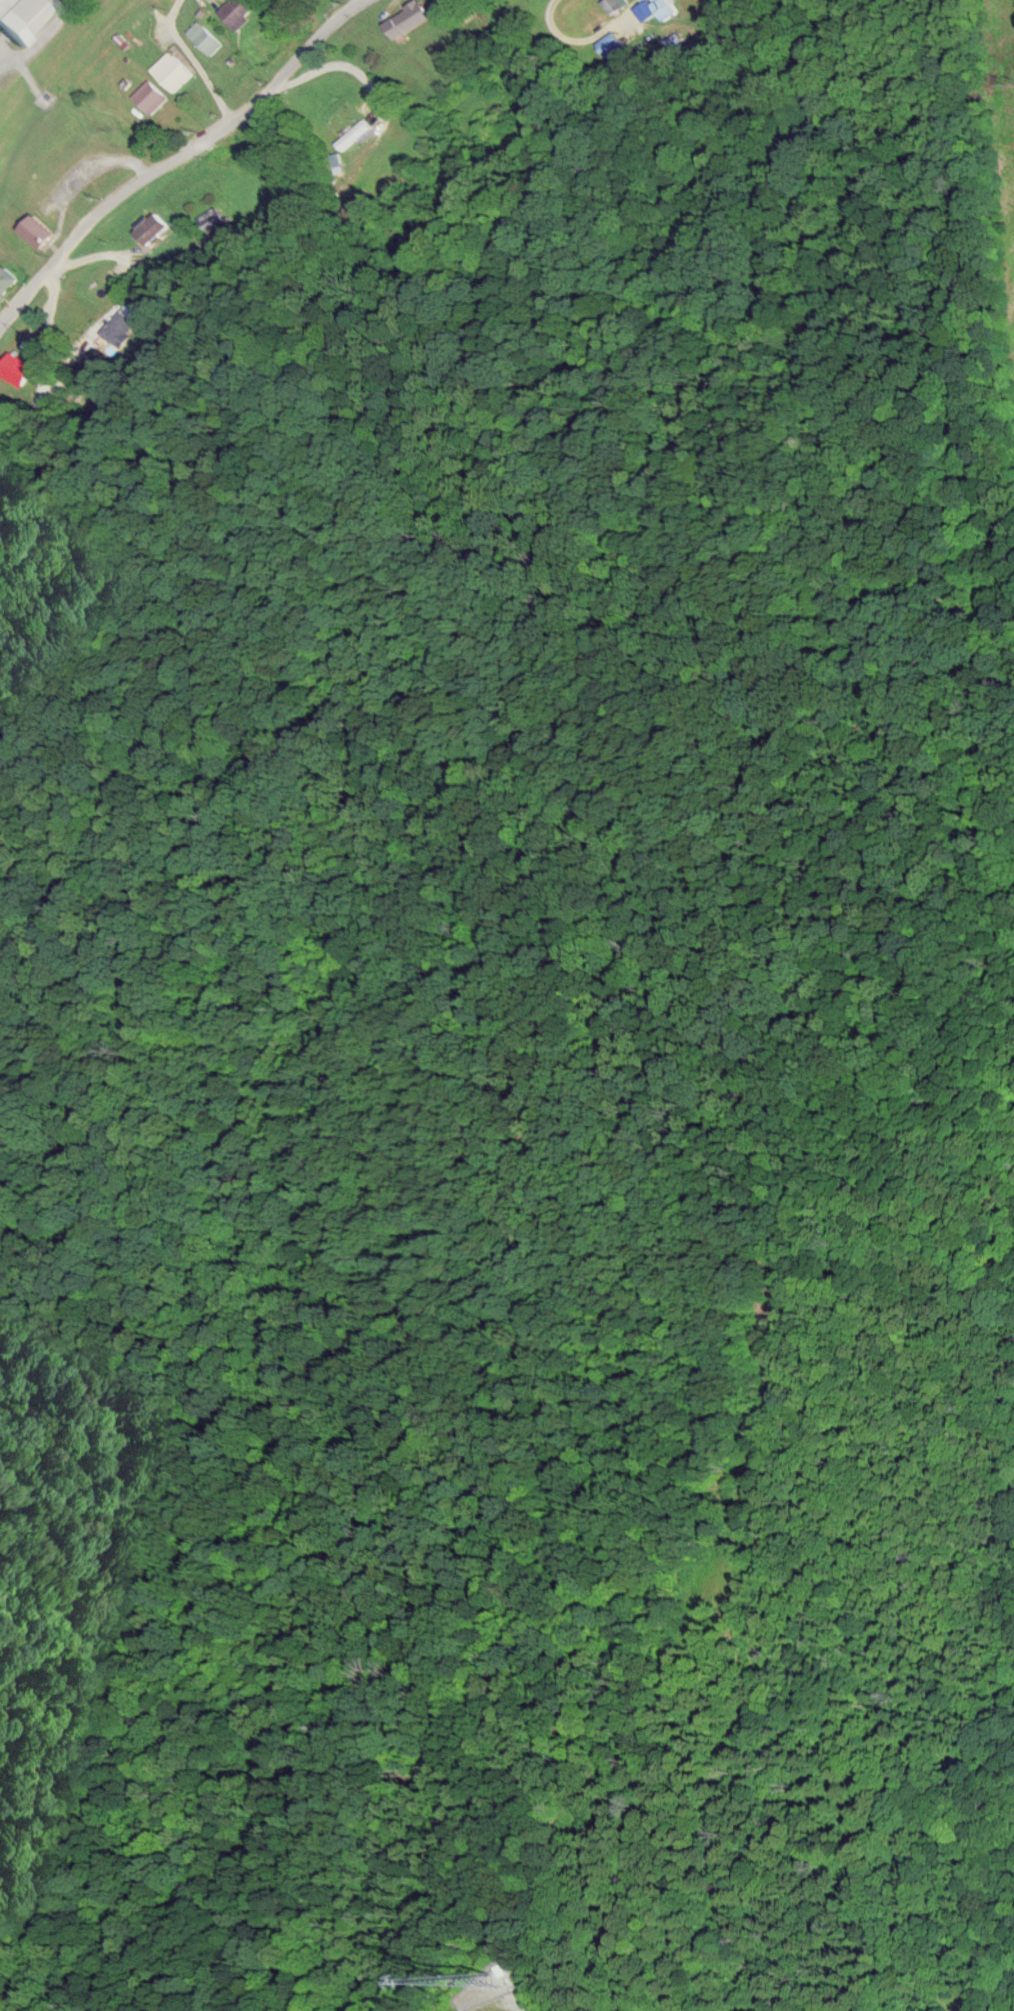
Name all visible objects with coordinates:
building: (617, 4)
building: (666, 7)
building: (238, 10)
building: (25, 16)
building: (410, 17)
building: (205, 36)
building: (611, 42)
road: (191, 60)
building: (175, 68)
road: (328, 68)
building: (151, 95)
building: (357, 133)
road: (176, 157)
road: (90, 168)
building: (212, 215)
building: (153, 224)
building: (39, 229)
road: (87, 259)
building: (7, 279)
building: (122, 324)
road: (43, 331)
building: (19, 366)

